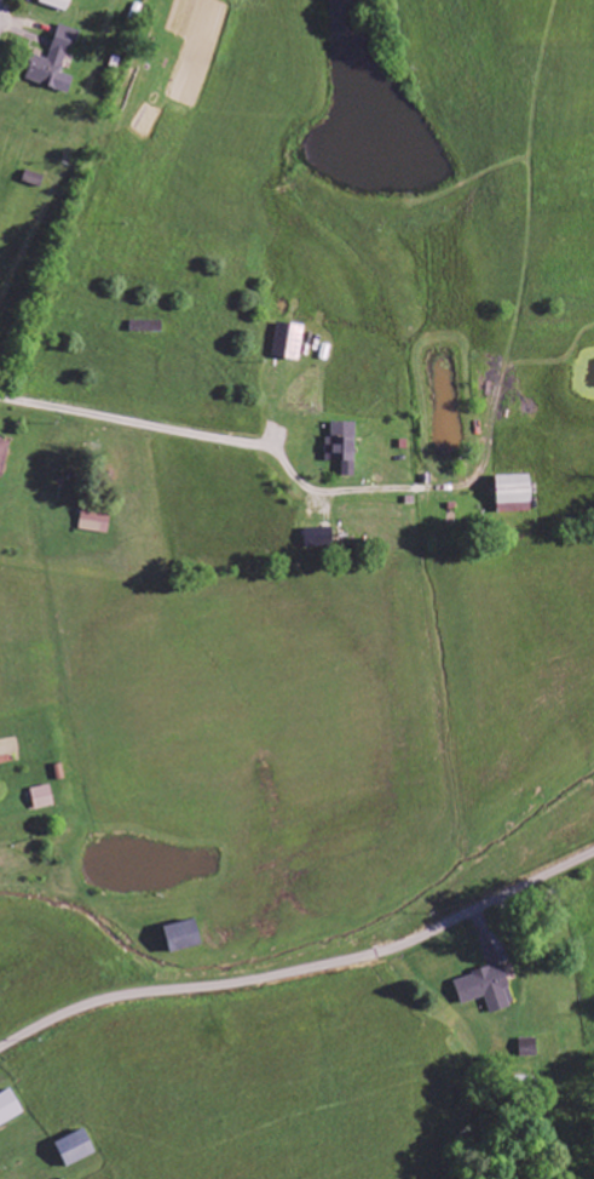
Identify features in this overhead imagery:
road: (0, 1)
building: (59, 4)
building: (57, 62)
building: (292, 342)
road: (145, 439)
building: (345, 447)
building: (5, 456)
building: (518, 494)
building: (98, 522)
building: (322, 538)
building: (45, 797)
building: (186, 937)
road: (302, 968)
building: (490, 989)
building: (531, 1049)
building: (10, 1109)
building: (79, 1149)

